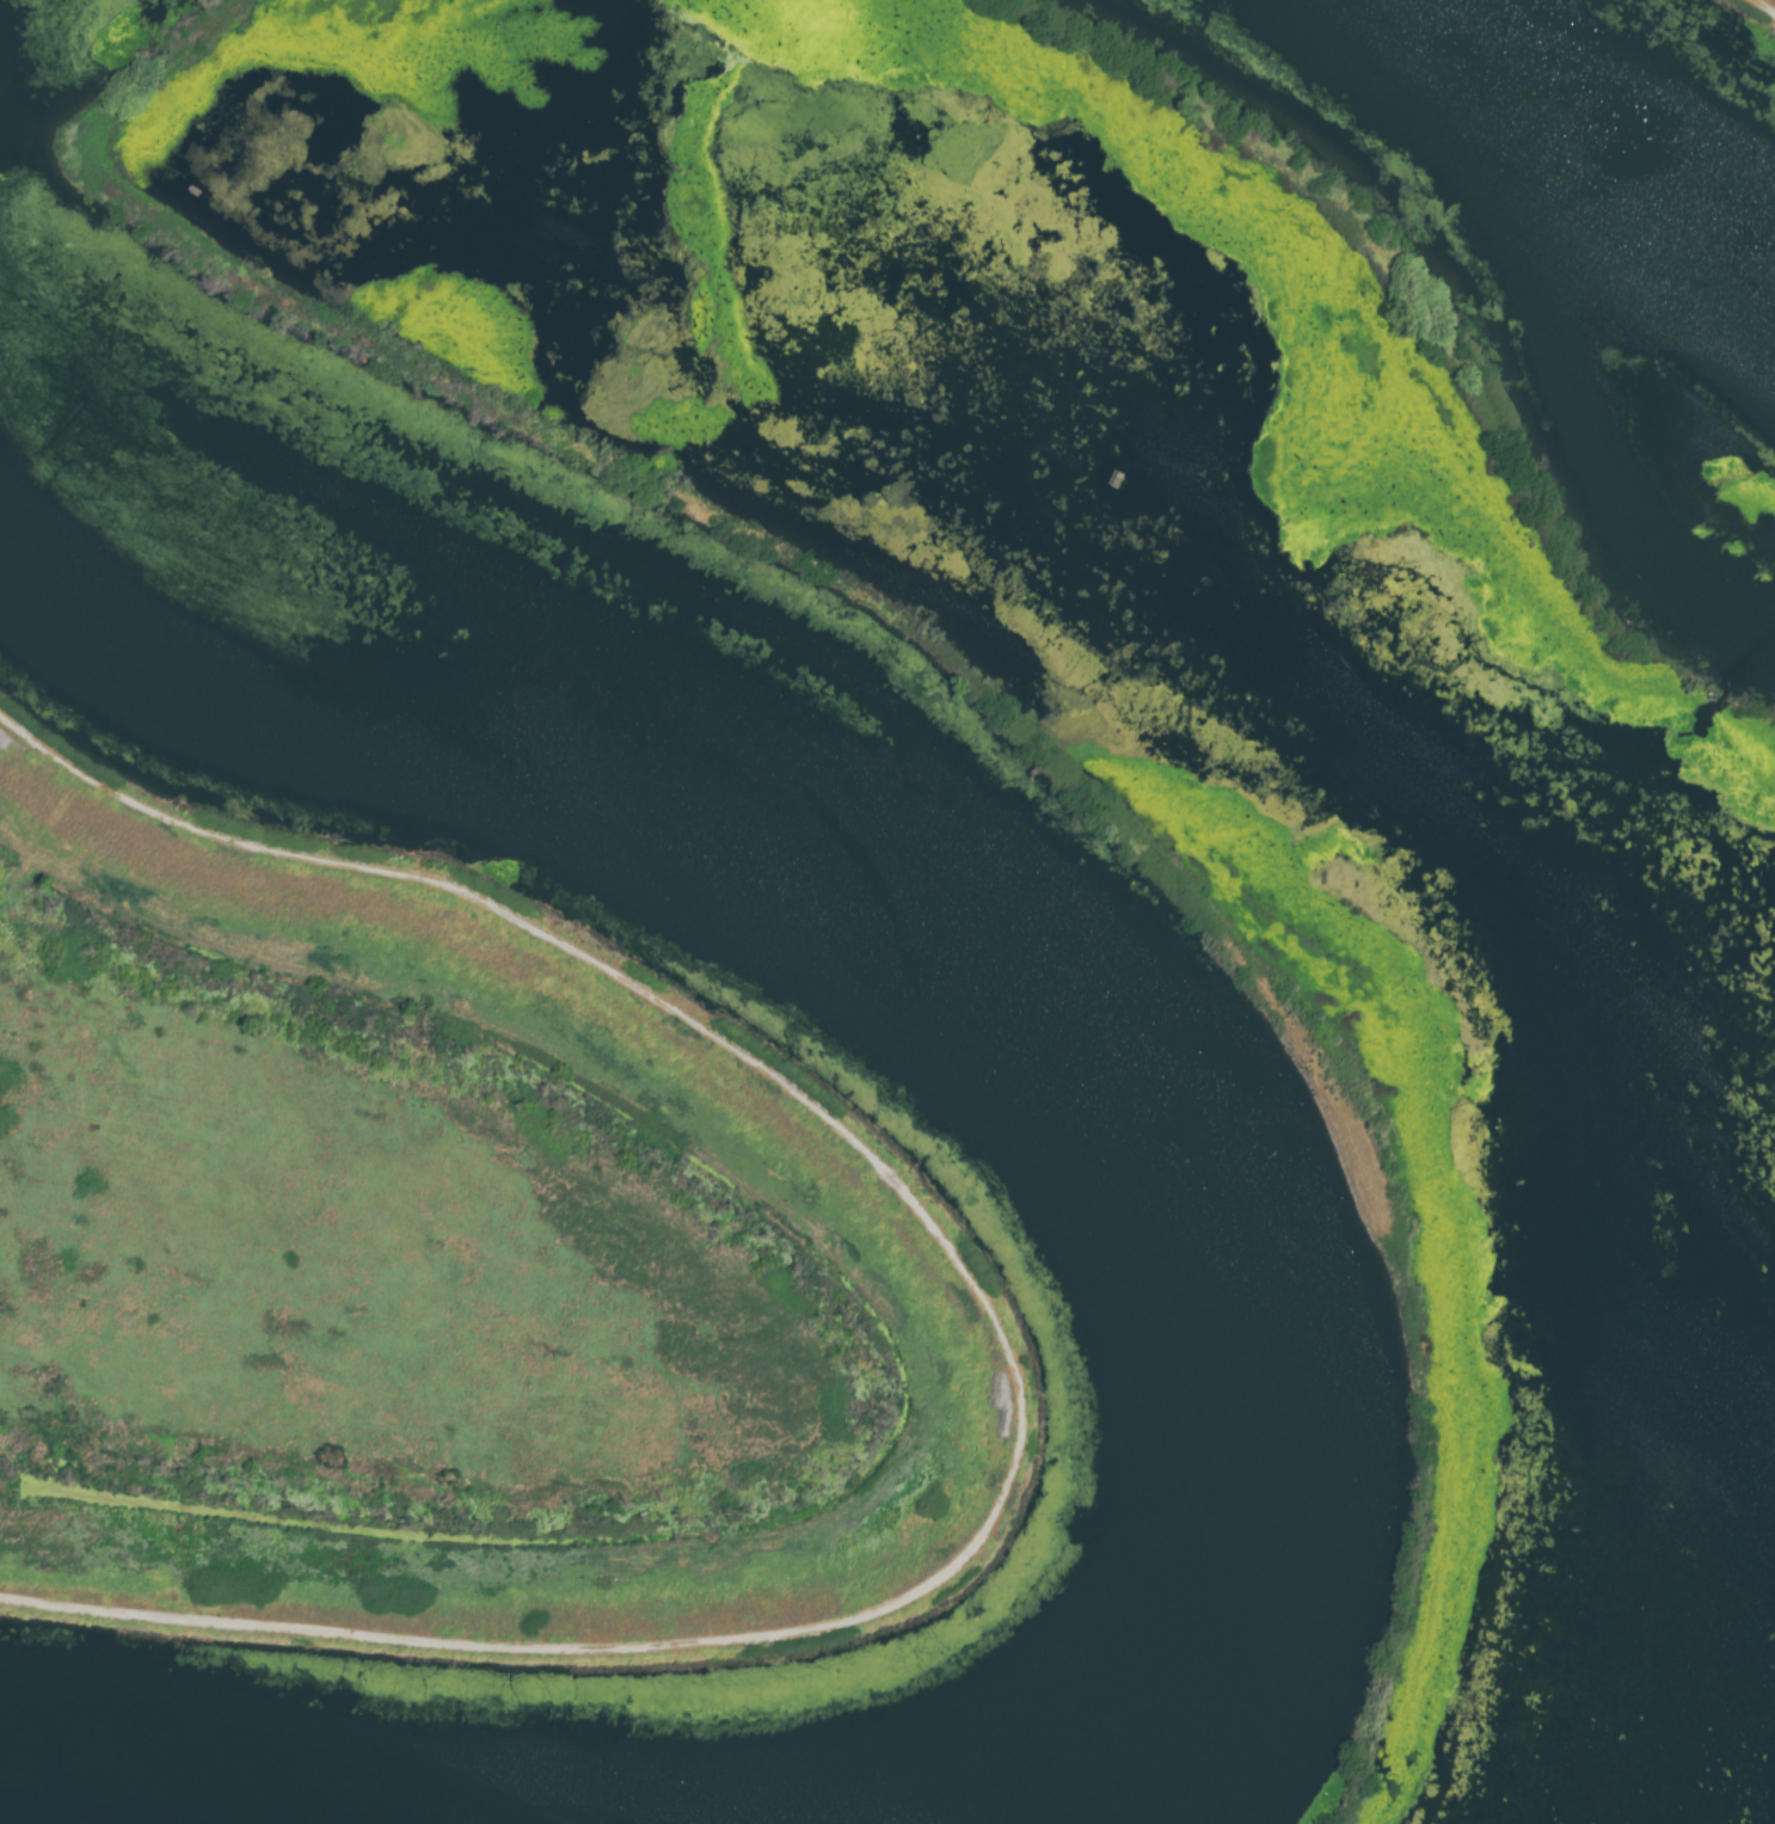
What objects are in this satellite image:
crop: (1773, 0)
river: (1570, 140)
river: (942, 945)
crop: (401, 1275)

